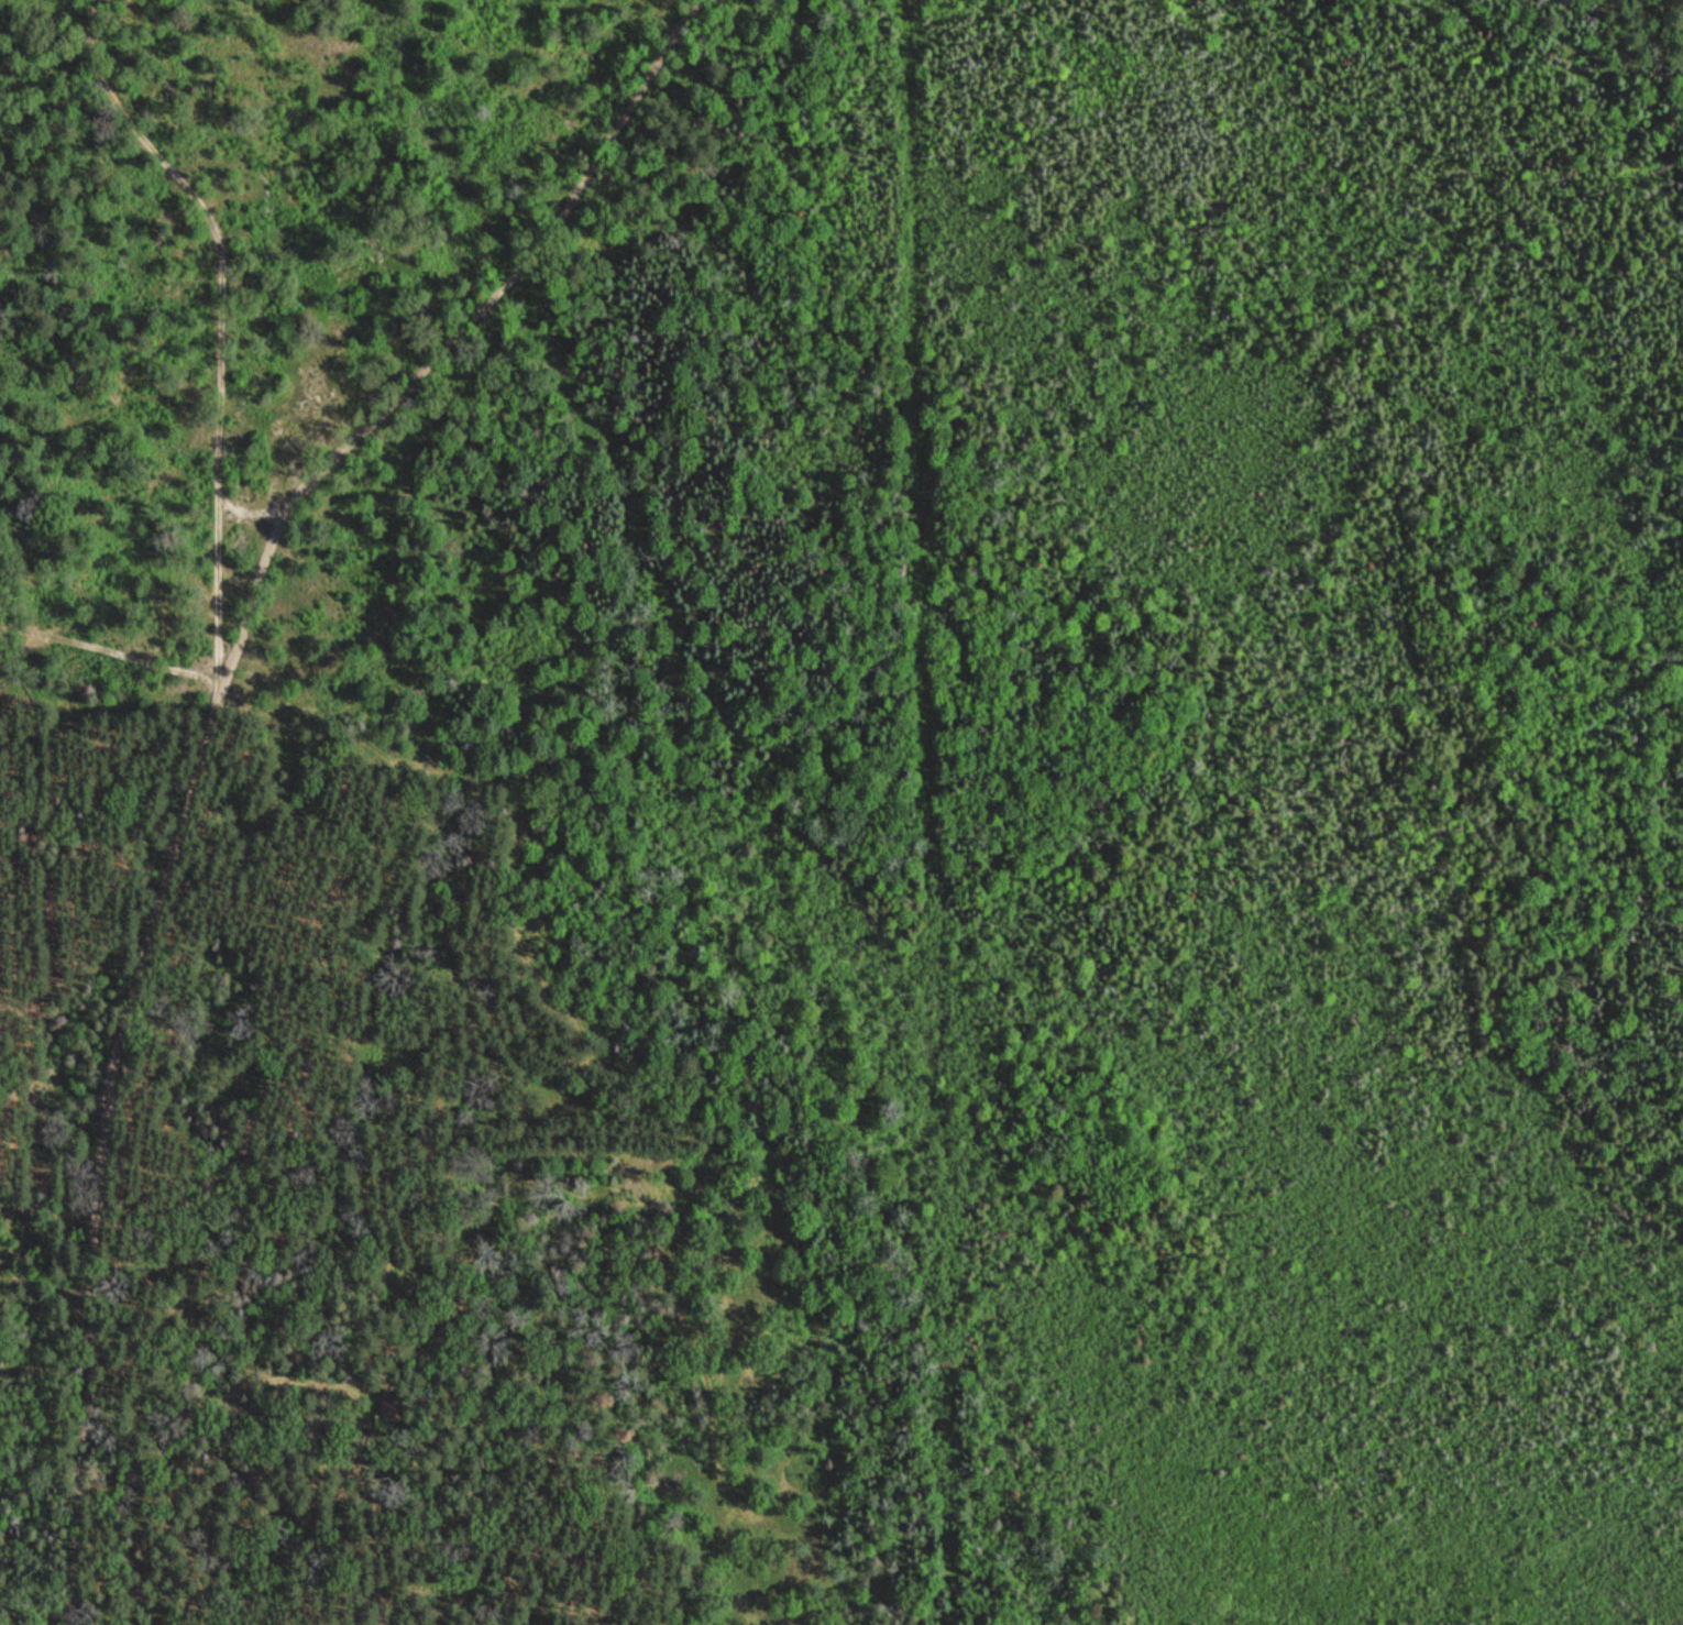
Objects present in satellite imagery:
road: (222, 319)
road: (209, 736)

